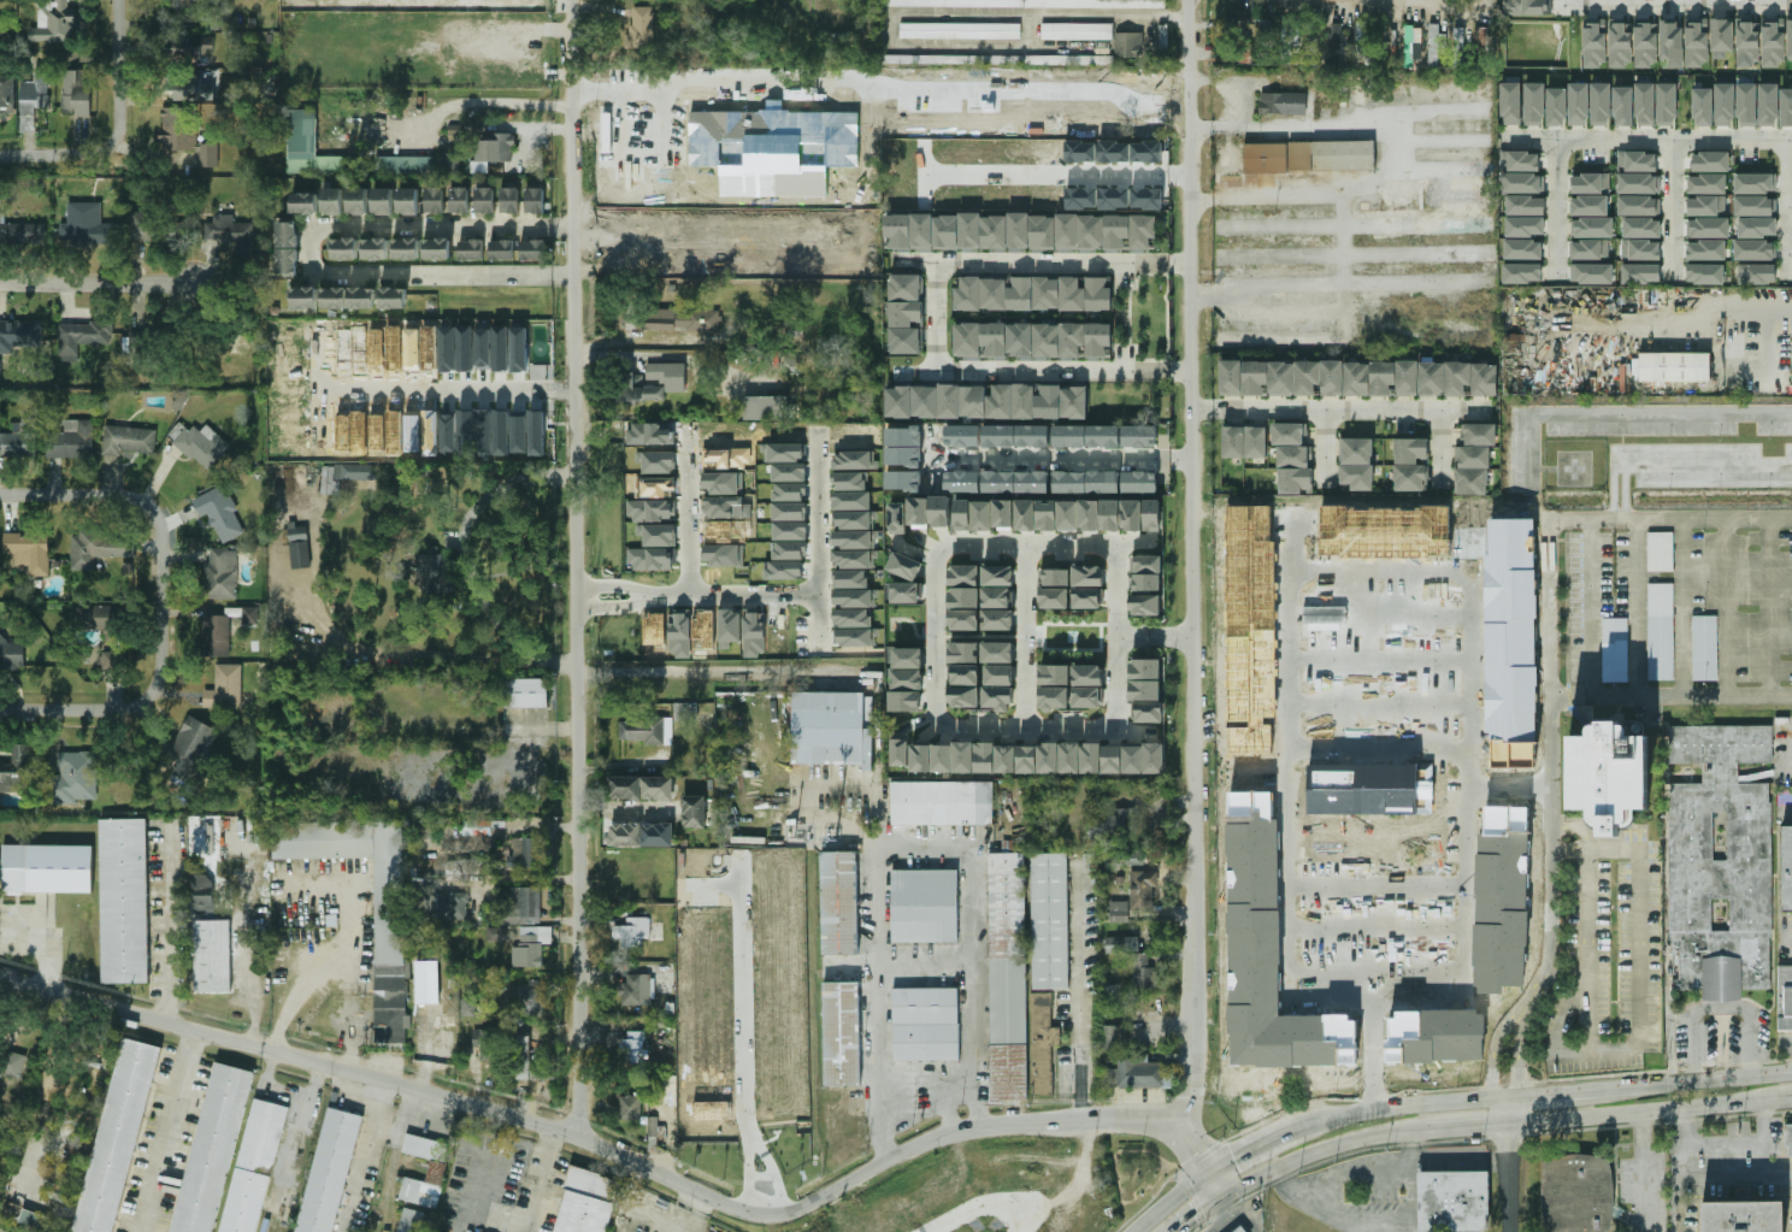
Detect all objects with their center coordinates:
road: (1563, 1)
road: (1681, 1)
building: (177, 2)
road: (1678, 2)
building: (1032, 4)
building: (1527, 7)
road: (927, 13)
building: (1236, 19)
building: (54, 20)
building: (641, 28)
road: (520, 30)
building: (960, 30)
road: (1030, 30)
building: (1077, 31)
building: (1386, 35)
building: (1722, 35)
building: (1313, 36)
building: (1362, 40)
building: (1747, 41)
building: (1670, 42)
building: (1696, 42)
building: (1773, 42)
building: (1790, 42)
building: (1128, 43)
building: (1291, 43)
building: (1336, 43)
building: (1594, 43)
building: (1645, 43)
road: (122, 45)
building: (1413, 45)
building: (1434, 45)
building: (1620, 45)
building: (1482, 46)
building: (188, 48)
building: (1233, 53)
building: (997, 59)
road: (1240, 79)
building: (193, 89)
building: (76, 92)
building: (6, 94)
building: (33, 99)
road: (617, 99)
building: (1283, 102)
building: (1511, 104)
building: (1534, 104)
building: (1578, 104)
building: (1601, 104)
building: (1645, 104)
building: (1666, 104)
building: (1723, 104)
building: (1746, 104)
building: (1768, 104)
building: (1556, 106)
building: (1622, 106)
building: (1702, 107)
building: (1786, 107)
road: (1098, 122)
road: (1364, 125)
road: (1218, 126)
building: (184, 134)
road: (1649, 140)
building: (308, 146)
building: (494, 147)
road: (87, 155)
building: (1343, 155)
building: (1278, 157)
building: (1520, 161)
building: (1710, 161)
building: (450, 163)
building: (405, 164)
building: (479, 166)
road: (1057, 175)
building: (1522, 183)
building: (1590, 183)
building: (1638, 183)
building: (1755, 183)
building: (1706, 184)
building: (434, 200)
building: (459, 200)
building: (484, 200)
building: (508, 200)
building: (534, 200)
building: (332, 201)
building: (358, 201)
building: (382, 201)
building: (407, 201)
building: (303, 202)
building: (1525, 205)
building: (1588, 205)
building: (1639, 205)
road: (1674, 205)
building: (1706, 205)
road: (1554, 206)
building: (1755, 206)
road: (1788, 206)
building: (84, 225)
building: (140, 225)
building: (1525, 226)
building: (1641, 226)
building: (1756, 226)
building: (1592, 228)
building: (1708, 228)
building: (20, 231)
building: (1091, 231)
building: (175, 232)
building: (228, 232)
building: (955, 232)
road: (1342, 237)
building: (287, 248)
building: (343, 248)
building: (375, 248)
building: (406, 248)
building: (436, 248)
road: (308, 249)
building: (470, 249)
building: (501, 249)
building: (532, 249)
building: (1522, 249)
building: (1590, 249)
building: (1640, 249)
building: (1705, 249)
building: (1755, 249)
road: (1042, 259)
building: (1522, 272)
building: (1592, 273)
building: (1640, 273)
building: (1705, 273)
building: (1756, 273)
road: (99, 285)
building: (1033, 294)
building: (303, 297)
building: (347, 297)
building: (393, 297)
building: (907, 313)
road: (1717, 313)
road: (935, 314)
building: (682, 319)
building: (19, 335)
building: (81, 337)
building: (1031, 340)
road: (615, 341)
building: (238, 344)
building: (483, 347)
building: (448, 348)
building: (465, 348)
building: (500, 348)
building: (519, 349)
road: (652, 354)
building: (797, 359)
building: (1674, 366)
road: (1044, 371)
building: (667, 375)
building: (1356, 378)
building: (637, 388)
road: (448, 389)
building: (986, 401)
building: (765, 407)
road: (1340, 408)
road: (1607, 413)
building: (491, 431)
building: (448, 432)
building: (465, 432)
building: (536, 432)
building: (519, 434)
building: (1290, 434)
building: (1016, 436)
building: (1104, 436)
building: (19, 438)
building: (71, 438)
building: (129, 440)
building: (1244, 442)
road: (1328, 447)
road: (1442, 448)
road: (932, 459)
road: (1062, 459)
building: (1474, 459)
building: (1356, 462)
building: (1410, 464)
helipad: (1575, 467)
building: (1295, 470)
building: (789, 471)
building: (344, 476)
building: (724, 482)
building: (1015, 482)
building: (1086, 482)
building: (1139, 482)
building: (789, 491)
road: (131, 494)
building: (649, 509)
building: (790, 511)
building: (220, 513)
building: (919, 513)
building: (1003, 513)
building: (1047, 514)
building: (1089, 514)
building: (1120, 514)
building: (1153, 514)
building: (973, 515)
road: (690, 517)
road: (1637, 520)
building: (790, 530)
building: (658, 534)
road: (1025, 541)
road: (819, 543)
building: (299, 547)
building: (99, 548)
road: (465, 548)
building: (789, 549)
building: (29, 550)
building: (1661, 552)
building: (724, 554)
building: (649, 558)
building: (854, 559)
road: (1192, 565)
building: (904, 566)
road: (576, 568)
building: (784, 570)
building: (431, 573)
building: (1145, 573)
road: (1337, 573)
building: (219, 574)
building: (997, 576)
building: (1087, 576)
building: (1054, 577)
building: (850, 578)
road: (614, 585)
building: (963, 586)
road: (1588, 589)
road: (736, 593)
building: (906, 593)
building: (996, 596)
building: (855, 597)
building: (1054, 599)
building: (1087, 599)
building: (1145, 605)
road: (615, 606)
road: (1680, 608)
road: (1726, 608)
road: (1769, 608)
road: (1549, 609)
road: (1638, 609)
building: (249, 614)
flagpole: (658, 615)
building: (853, 618)
building: (963, 619)
building: (997, 619)
building: (729, 627)
road: (935, 629)
building: (105, 630)
road: (1027, 630)
road: (1116, 631)
building: (1661, 631)
building: (679, 633)
building: (754, 633)
building: (216, 636)
building: (856, 637)
road: (1155, 637)
building: (1550, 637)
road: (1588, 642)
building: (1704, 647)
building: (1615, 649)
building: (963, 652)
building: (997, 652)
building: (11, 653)
road: (420, 656)
building: (907, 668)
road: (711, 672)
building: (965, 674)
building: (998, 674)
building: (1055, 674)
building: (1087, 676)
building: (1145, 679)
building: (225, 688)
building: (526, 692)
building: (963, 696)
building: (997, 697)
building: (1054, 697)
building: (1086, 697)
road: (1670, 697)
building: (904, 701)
road: (124, 712)
building: (1149, 712)
road: (1026, 719)
road: (497, 727)
building: (833, 729)
building: (647, 730)
building: (191, 748)
road: (1549, 748)
building: (900, 751)
building: (1037, 759)
building: (18, 770)
building: (1609, 776)
building: (72, 778)
building: (641, 788)
road: (1529, 791)
building: (942, 802)
road: (619, 810)
building: (694, 812)
building: (1118, 823)
road: (1580, 827)
building: (425, 830)
building: (641, 835)
road: (1613, 847)
road: (1569, 849)
building: (527, 853)
building: (1721, 862)
building: (1787, 867)
building: (47, 868)
road: (1381, 888)
building: (1142, 890)
building: (201, 892)
building: (124, 901)
building: (839, 902)
building: (443, 906)
building: (523, 906)
building: (925, 906)
building: (1119, 912)
building: (1049, 920)
road: (164, 926)
road: (972, 927)
road: (883, 929)
building: (632, 931)
road: (1548, 931)
building: (496, 933)
building: (389, 942)
building: (1122, 944)
building: (531, 945)
building: (212, 955)
road: (1641, 957)
road: (1585, 960)
building: (1140, 971)
building: (1008, 975)
road: (248, 982)
building: (426, 982)
road: (300, 989)
building: (636, 990)
road: (1079, 994)
building: (1785, 997)
building: (532, 998)
building: (470, 1006)
road: (1720, 1009)
road: (743, 1013)
building: (926, 1024)
road: (1560, 1024)
building: (841, 1032)
building: (1114, 1036)
road: (350, 1037)
building: (1042, 1042)
building: (487, 1043)
building: (633, 1045)
road: (1670, 1051)
road: (1594, 1055)
road: (1493, 1056)
road: (1516, 1057)
building: (527, 1062)
building: (12, 1063)
building: (1134, 1072)
road: (1693, 1081)
road: (37, 1094)
road: (1551, 1094)
road: (1788, 1097)
road: (1397, 1104)
road: (950, 1106)
building: (630, 1107)
road: (1646, 1110)
building: (653, 1126)
road: (1468, 1126)
road: (171, 1132)
road: (1181, 1134)
building: (117, 1136)
road: (577, 1138)
road: (1763, 1138)
building: (1787, 1139)
building: (425, 1146)
road: (1320, 1148)
building: (212, 1149)
traffic signals: (1195, 1150)
road: (1251, 1151)
traffic signals: (1237, 1160)
road: (1509, 1163)
building: (254, 1167)
road: (773, 1168)
road: (1369, 1169)
building: (329, 1171)
road: (749, 1172)
road: (1644, 1172)
road: (1708, 1175)
road: (540, 1181)
road: (1218, 1184)
building: (425, 1186)
building: (1576, 1193)
road: (1413, 1196)
road: (1171, 1199)
building: (1454, 1201)
road: (1681, 1201)
building: (585, 1202)
road: (1196, 1214)
traffic signals: (1195, 1215)
building: (1743, 1216)
building: (34, 1220)
building: (413, 1221)
road: (1356, 1221)

